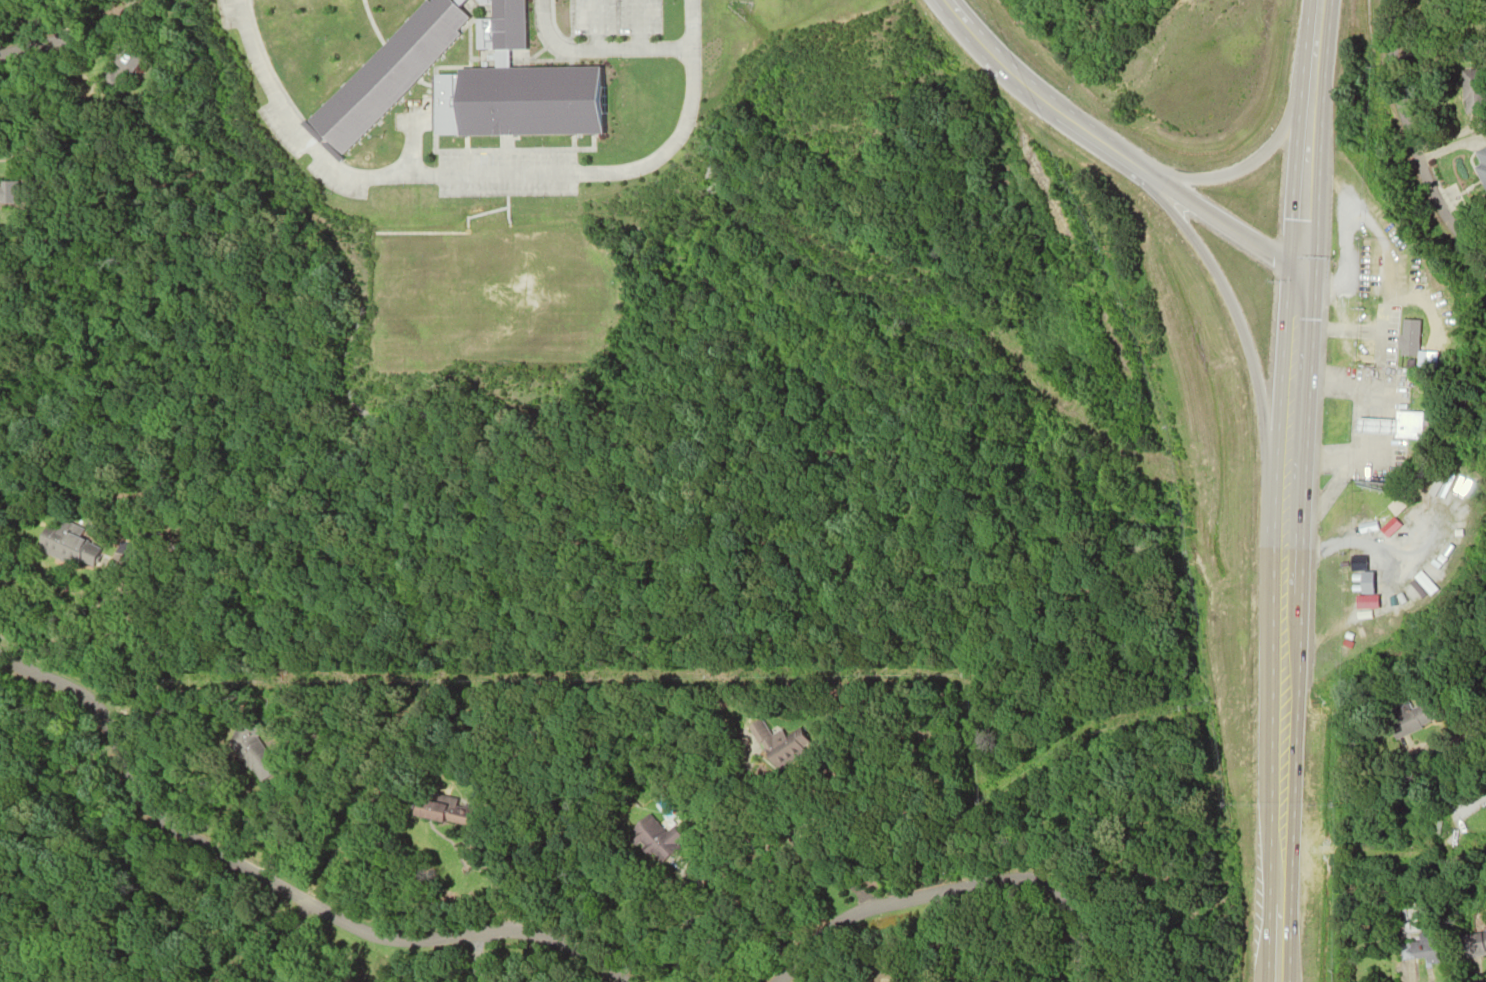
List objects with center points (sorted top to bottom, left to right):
building: (501, 25)
road: (50, 41)
road: (597, 48)
building: (386, 71)
building: (1468, 92)
building: (515, 100)
road: (1304, 134)
road: (1400, 134)
road: (1107, 149)
building: (1480, 164)
road: (477, 171)
road: (1226, 175)
building: (9, 192)
road: (1227, 297)
building: (1408, 336)
building: (1408, 423)
building: (1376, 424)
road: (1287, 429)
building: (1374, 530)
building: (71, 543)
building: (1439, 563)
building: (1359, 572)
road: (1281, 618)
building: (1381, 624)
building: (1414, 715)
road: (1483, 736)
building: (779, 744)
building: (252, 748)
road: (1277, 773)
building: (442, 811)
building: (655, 836)
road: (275, 887)
road: (950, 890)
road: (1274, 941)
building: (1432, 947)

